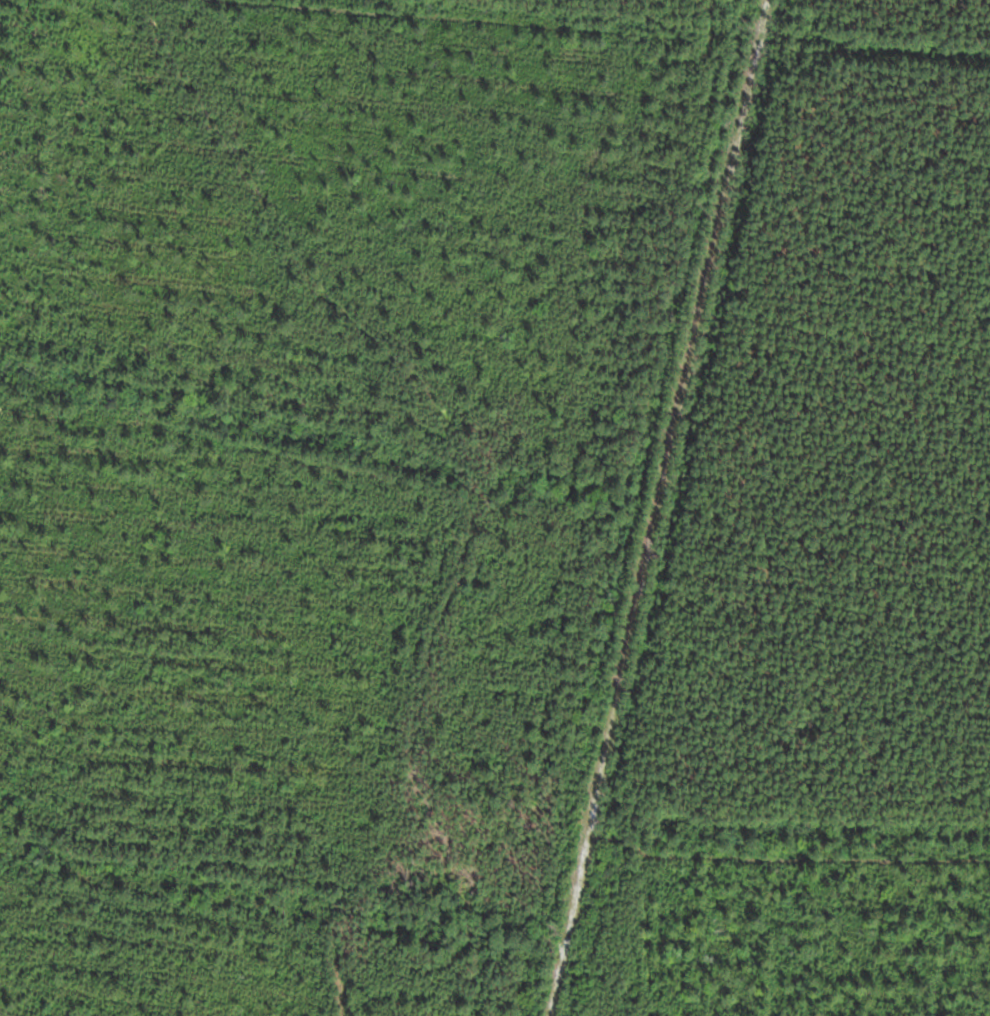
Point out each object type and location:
road: (653, 508)

